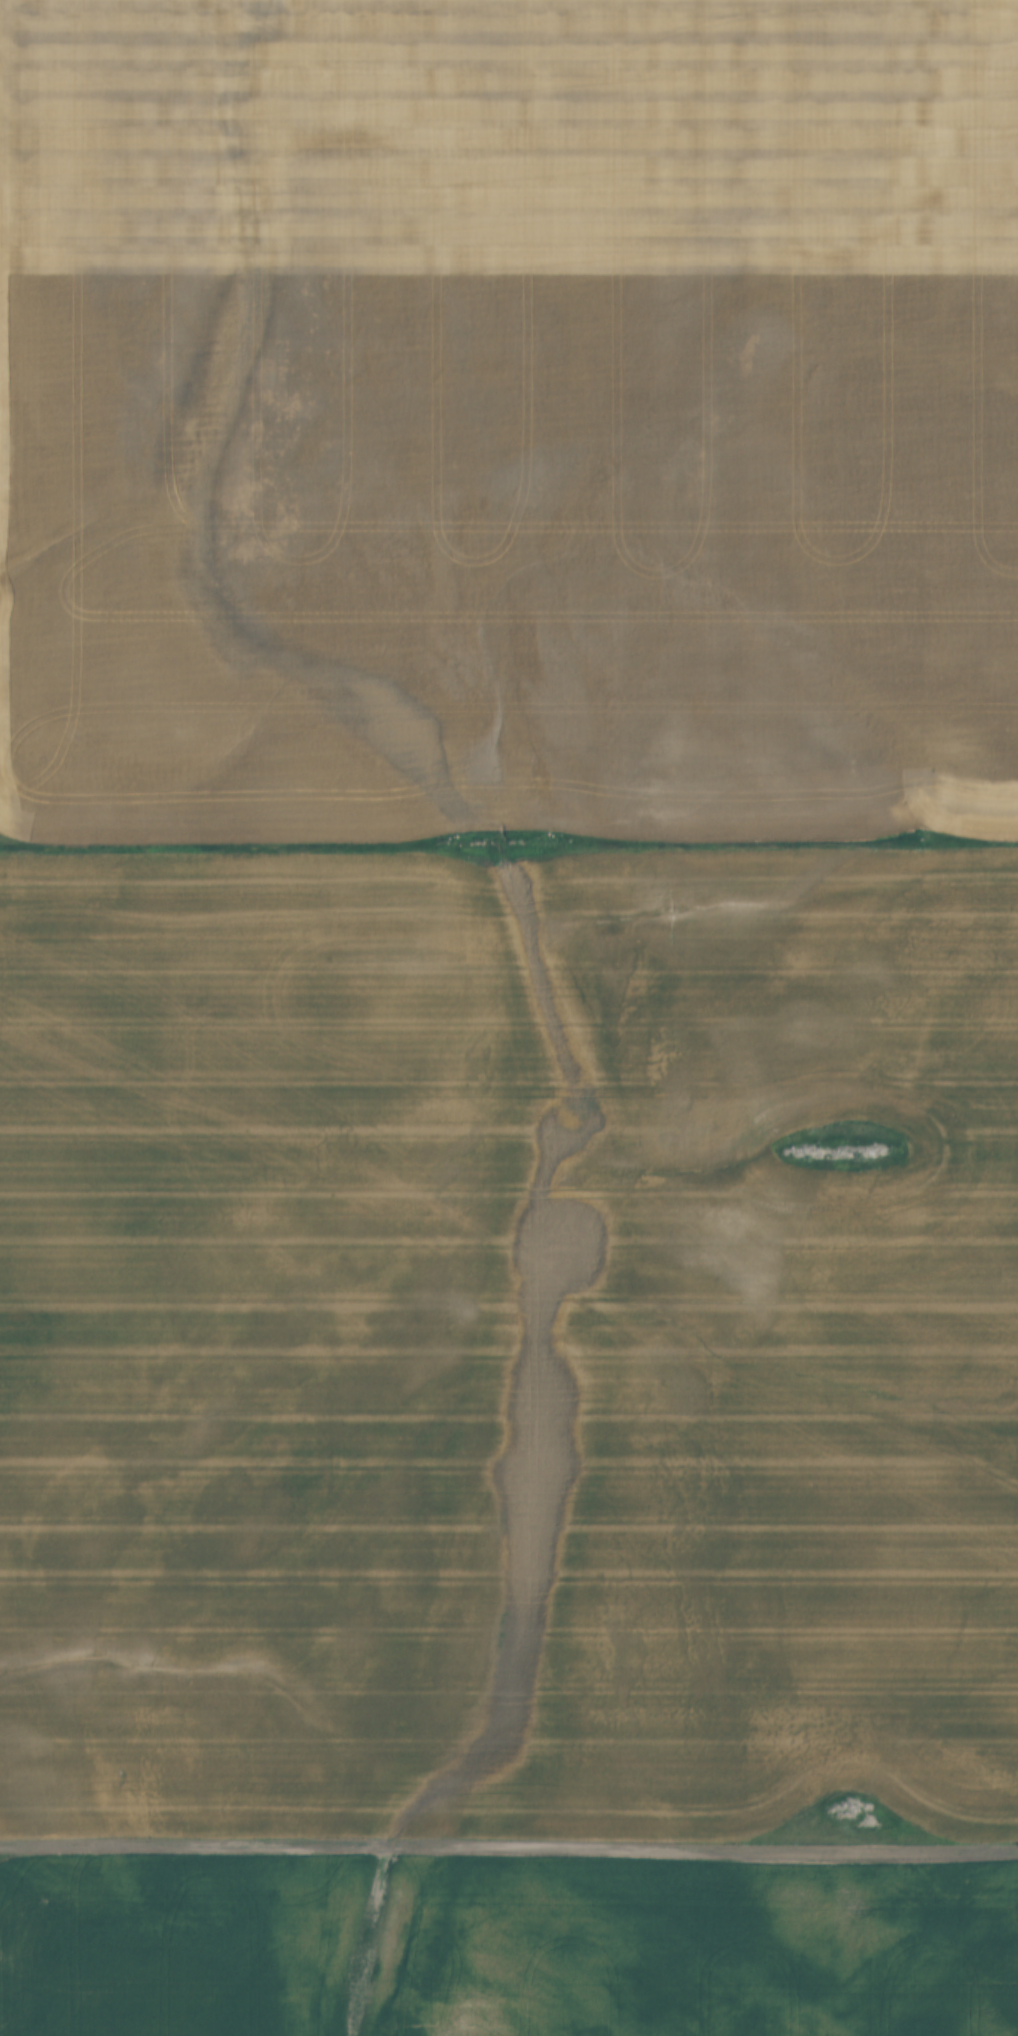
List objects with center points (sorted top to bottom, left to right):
road: (508, 1852)

